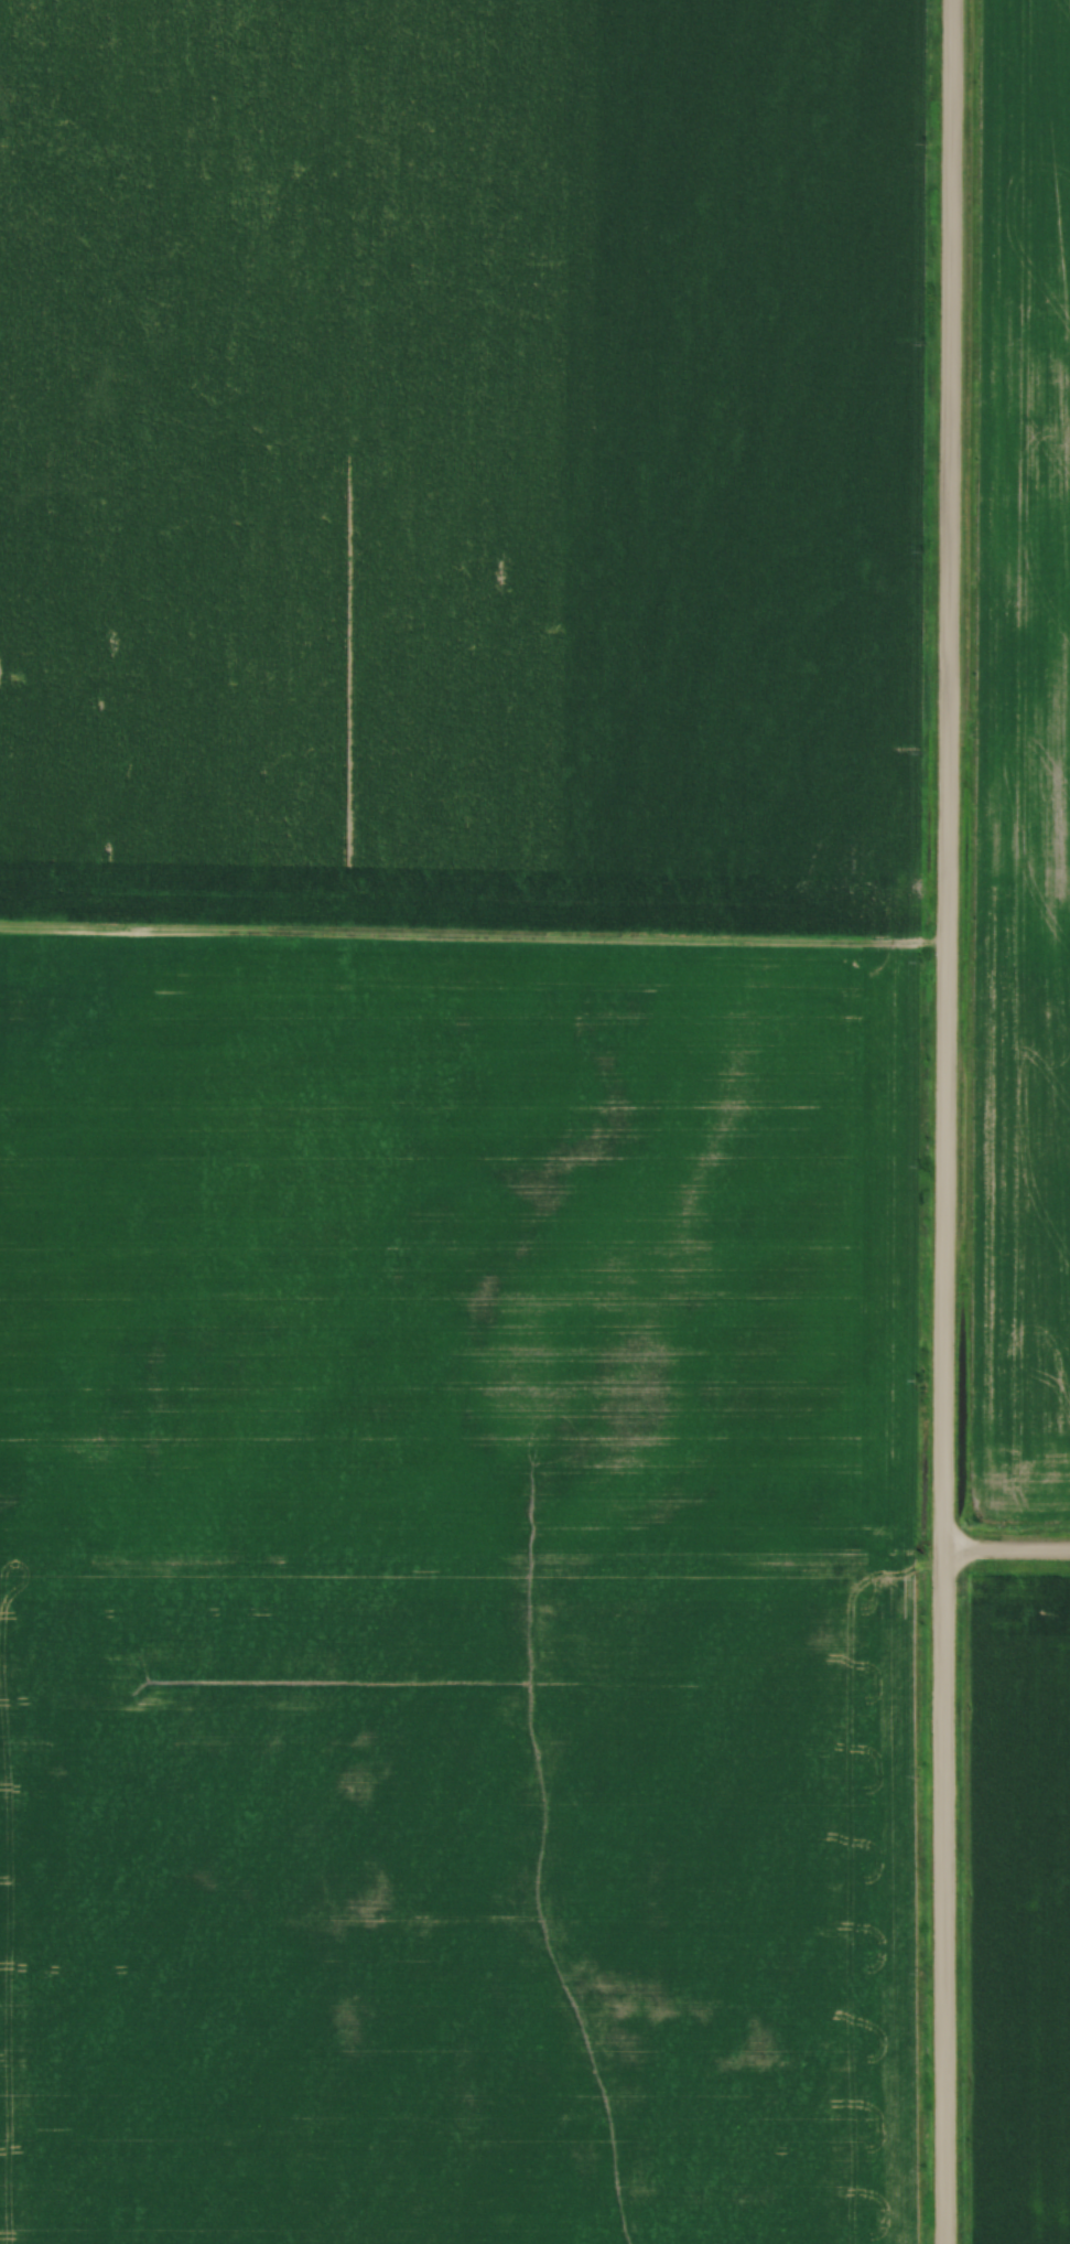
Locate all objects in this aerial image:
road: (940, 1121)
road: (1003, 1553)

